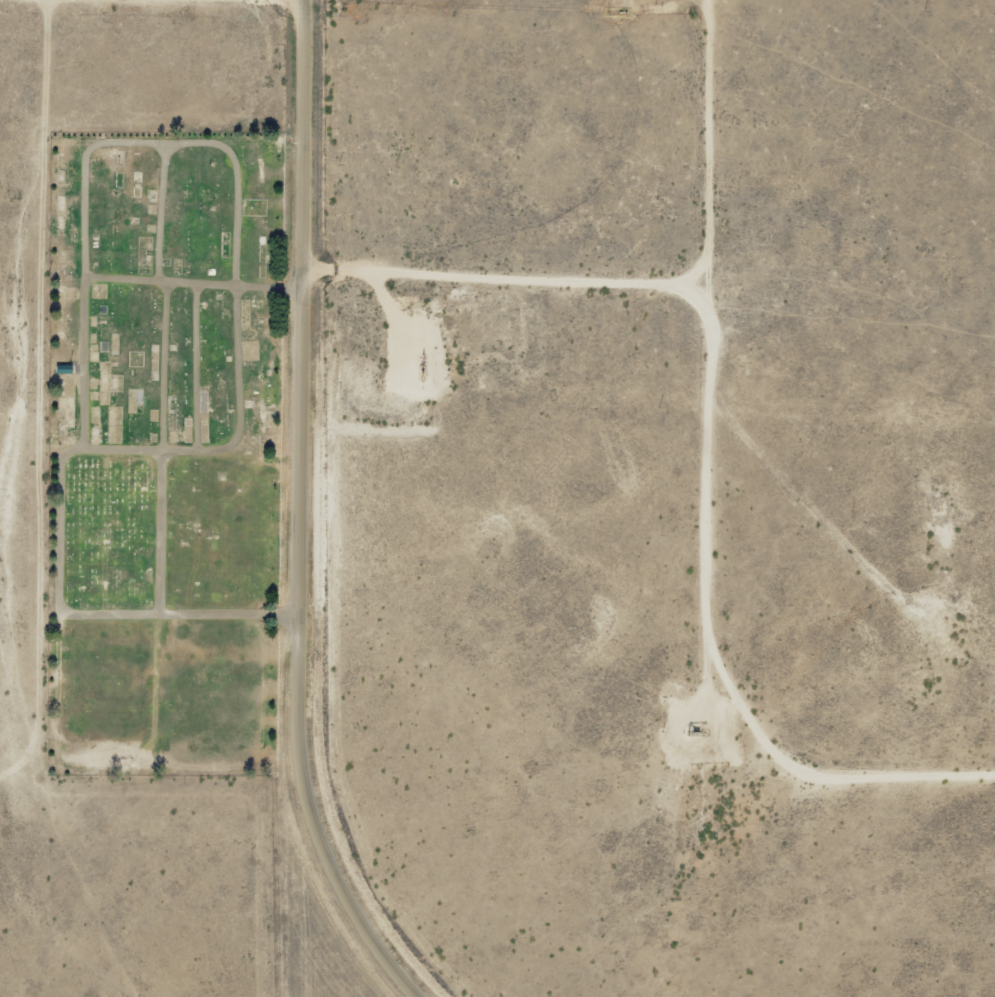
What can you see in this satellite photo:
road: (86, 213)
road: (507, 273)
road: (272, 288)
park: (165, 449)
road: (299, 517)
road: (161, 529)
road: (692, 529)

